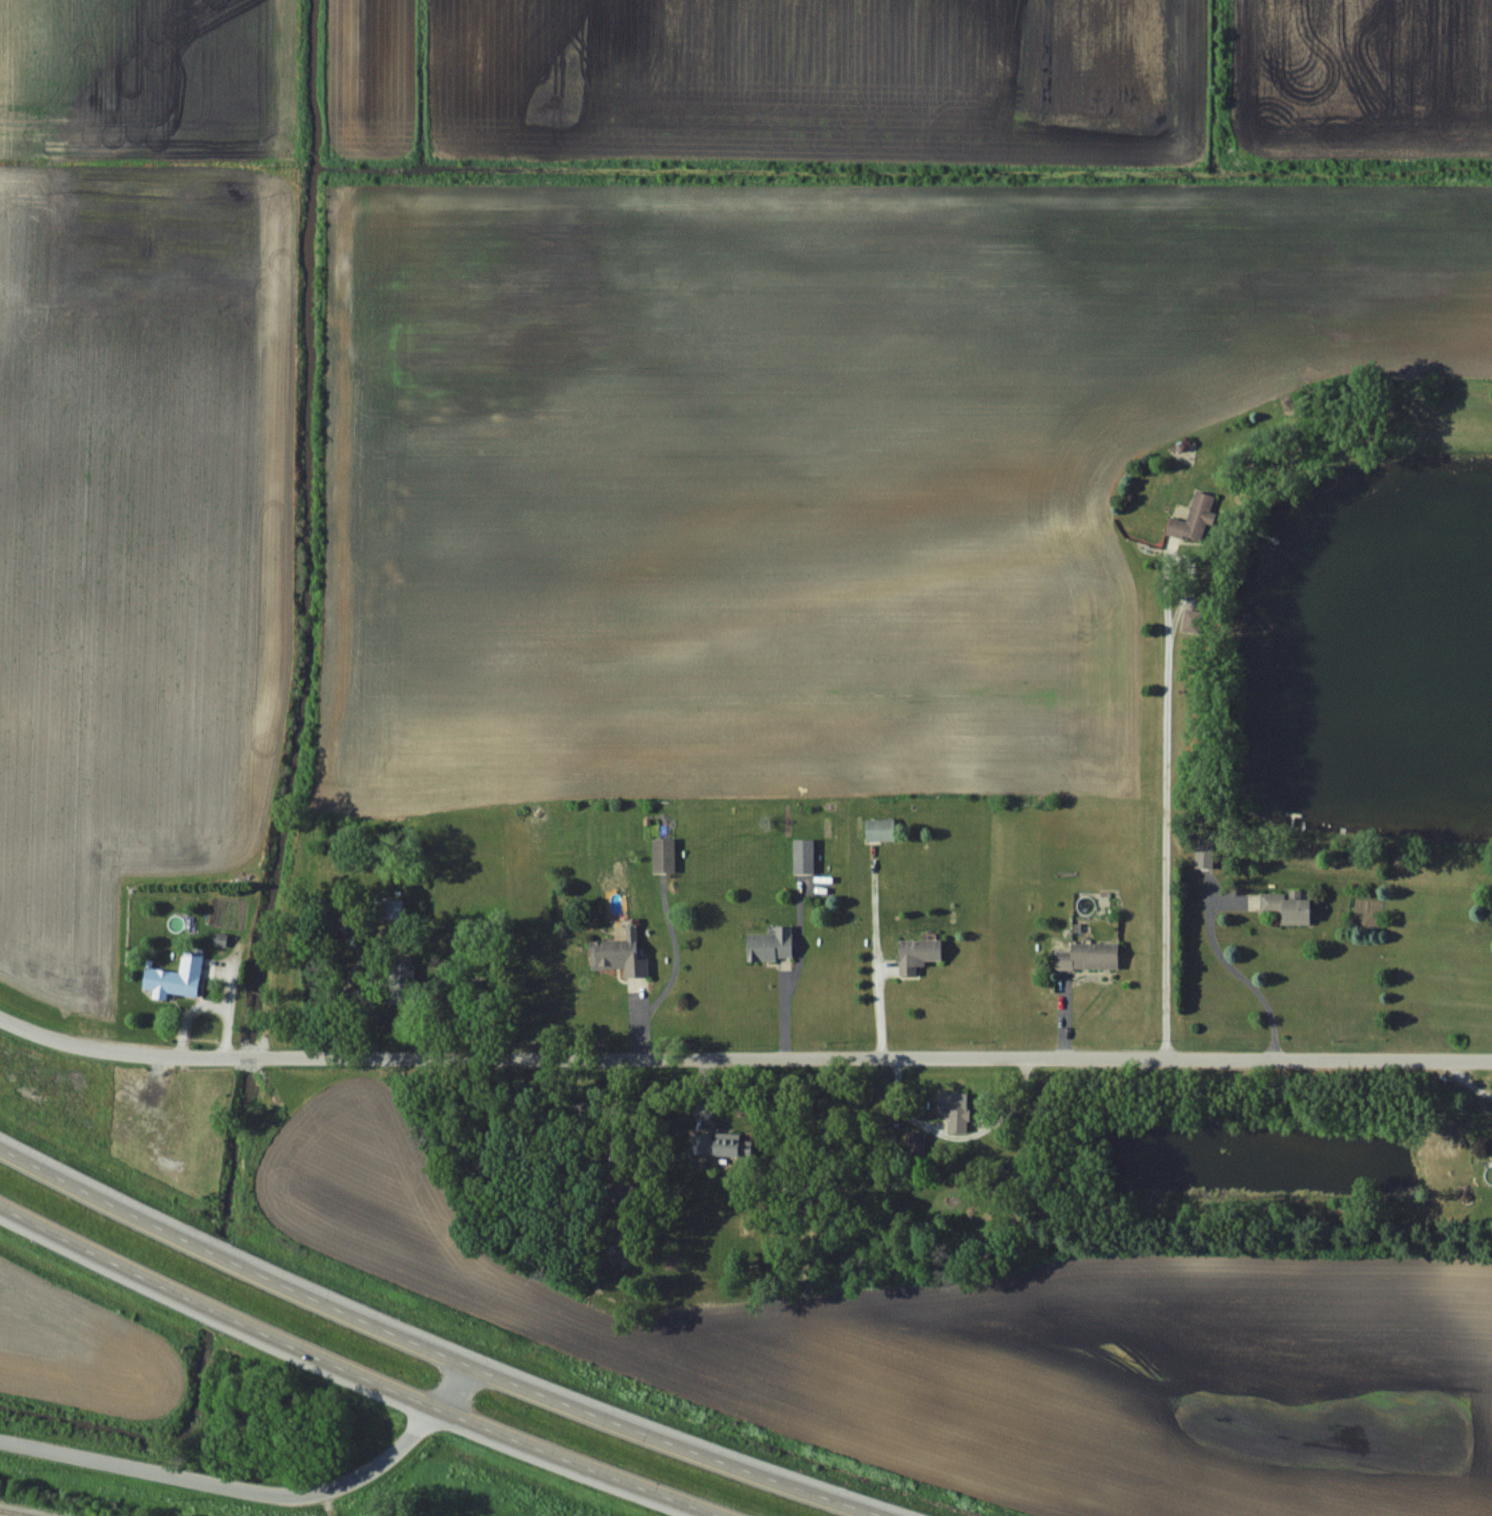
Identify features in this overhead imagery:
building: (1201, 456)
building: (1194, 520)
building: (1191, 621)
road: (1164, 821)
building: (880, 830)
building: (663, 854)
building: (803, 856)
building: (1491, 869)
building: (387, 908)
building: (1287, 908)
building: (771, 944)
building: (619, 953)
building: (918, 953)
building: (1089, 956)
road: (1224, 965)
building: (175, 976)
building: (401, 978)
road: (742, 1059)
building: (955, 1109)
road: (957, 1137)
building: (914, 1142)
building: (720, 1145)
road: (232, 1261)
road: (216, 1311)
road: (674, 1444)
road: (578, 1463)
road: (256, 1493)
railway: (16, 1512)

